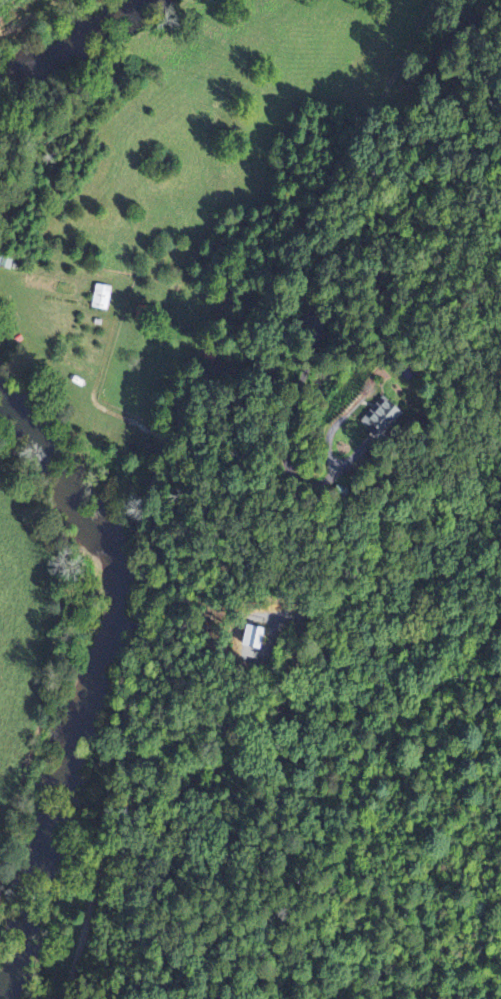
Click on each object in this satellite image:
river: (81, 57)
building: (98, 298)
building: (252, 638)
river: (111, 680)

